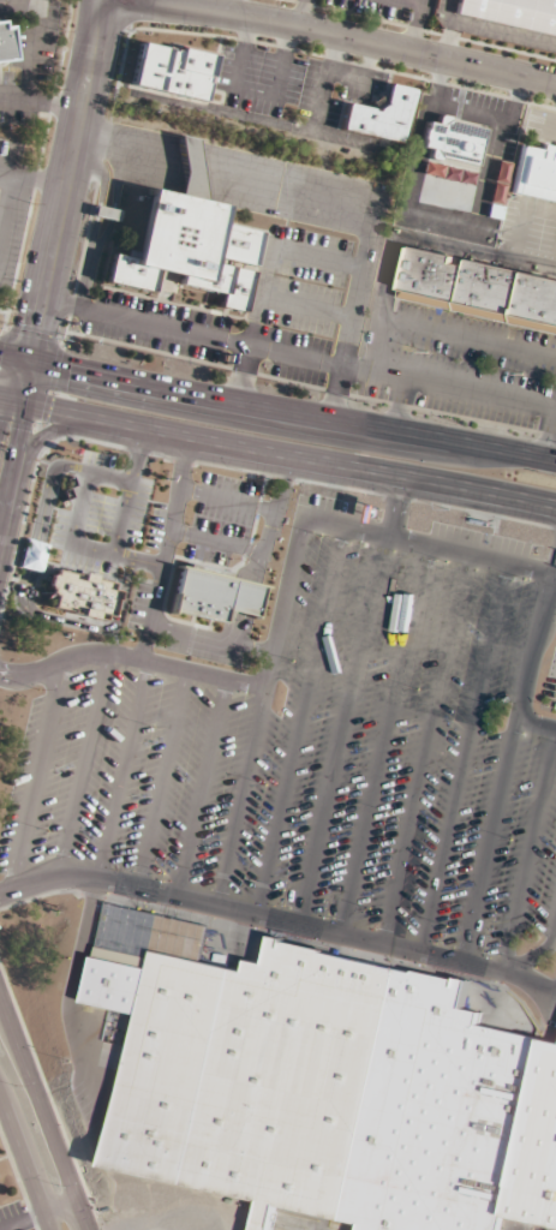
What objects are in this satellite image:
road: (234, 7)
building: (513, 12)
road: (34, 32)
road: (334, 35)
building: (4, 44)
building: (174, 71)
road: (40, 98)
building: (383, 115)
building: (458, 141)
building: (192, 169)
road: (226, 172)
building: (536, 173)
road: (30, 177)
road: (65, 179)
road: (7, 205)
building: (107, 213)
road: (522, 216)
road: (434, 239)
road: (555, 249)
building: (192, 250)
road: (318, 257)
building: (482, 288)
road: (306, 305)
road: (354, 311)
road: (252, 322)
traffic signals: (37, 326)
road: (192, 332)
road: (468, 340)
road: (375, 346)
road: (16, 356)
traffic signals: (66, 366)
road: (12, 380)
road: (448, 387)
road: (48, 402)
road: (37, 404)
road: (396, 404)
road: (293, 410)
road: (60, 425)
traffic signals: (31, 432)
road: (552, 440)
road: (327, 461)
road: (226, 497)
road: (13, 502)
road: (275, 502)
road: (395, 507)
road: (214, 539)
road: (166, 545)
road: (288, 584)
building: (79, 592)
building: (215, 596)
road: (233, 634)
road: (132, 656)
road: (299, 720)
road: (534, 724)
road: (343, 729)
road: (379, 738)
road: (422, 747)
road: (506, 756)
road: (461, 757)
road: (80, 766)
road: (121, 768)
road: (35, 777)
road: (161, 777)
road: (203, 787)
road: (526, 849)
road: (279, 919)
road: (539, 947)
road: (67, 961)
building: (321, 1088)
road: (44, 1110)
building: (538, 1150)
road: (25, 1160)
road: (61, 1202)
road: (22, 1217)
road: (4, 1228)

